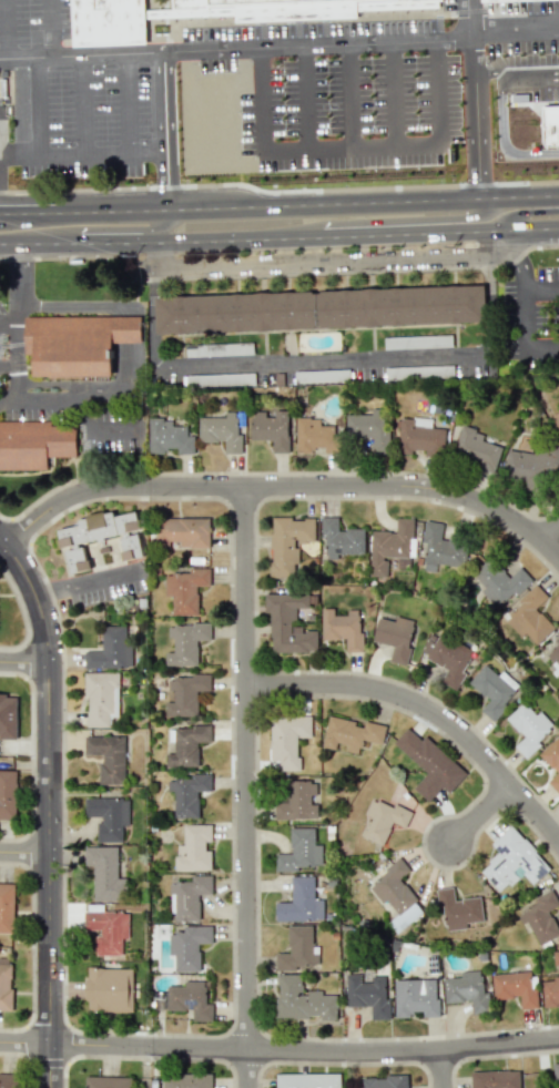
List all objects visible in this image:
building: (487, 0)
building: (293, 8)
road: (10, 17)
road: (465, 20)
building: (110, 23)
parking lot: (34, 24)
road: (520, 35)
road: (474, 39)
road: (265, 48)
parking lot: (525, 53)
road: (82, 55)
road: (49, 77)
road: (520, 84)
road: (434, 93)
road: (396, 94)
road: (359, 95)
road: (322, 96)
road: (284, 98)
parking lot: (317, 98)
road: (246, 100)
road: (207, 101)
road: (124, 103)
road: (84, 104)
road: (19, 108)
road: (482, 114)
road: (467, 115)
parking lot: (89, 120)
building: (545, 129)
road: (322, 148)
road: (187, 151)
road: (148, 152)
road: (88, 153)
road: (23, 156)
road: (496, 156)
road: (167, 176)
road: (307, 195)
road: (28, 204)
road: (522, 212)
road: (156, 220)
road: (402, 220)
road: (279, 235)
road: (63, 255)
road: (520, 255)
road: (318, 261)
road: (349, 271)
road: (540, 285)
road: (75, 309)
building: (319, 309)
road: (8, 317)
road: (522, 321)
road: (16, 322)
building: (417, 342)
building: (77, 343)
building: (218, 348)
road: (541, 354)
road: (318, 362)
road: (8, 364)
building: (418, 372)
building: (220, 379)
road: (8, 404)
road: (80, 409)
building: (556, 419)
building: (369, 428)
building: (271, 429)
building: (221, 430)
building: (315, 436)
building: (169, 437)
building: (419, 437)
building: (34, 444)
building: (476, 448)
building: (532, 465)
road: (278, 471)
road: (283, 488)
building: (182, 531)
road: (551, 533)
building: (100, 536)
building: (341, 538)
building: (288, 543)
building: (390, 547)
building: (440, 548)
building: (499, 582)
building: (185, 589)
road: (22, 612)
building: (529, 617)
building: (288, 623)
building: (342, 628)
building: (395, 637)
building: (185, 643)
building: (111, 649)
building: (553, 653)
building: (446, 657)
road: (26, 663)
building: (491, 691)
building: (184, 693)
building: (101, 698)
road: (427, 709)
building: (8, 716)
building: (529, 728)
building: (352, 733)
building: (287, 739)
building: (186, 745)
building: (108, 757)
building: (552, 761)
building: (429, 764)
road: (248, 787)
building: (187, 793)
building: (8, 794)
building: (298, 801)
road: (51, 807)
road: (485, 815)
building: (108, 816)
building: (382, 820)
building: (194, 847)
building: (299, 851)
road: (26, 852)
building: (512, 861)
building: (105, 873)
building: (396, 894)
building: (189, 896)
building: (301, 902)
building: (7, 907)
building: (457, 908)
building: (540, 917)
building: (108, 929)
building: (189, 946)
building: (297, 949)
building: (6, 986)
building: (515, 987)
building: (551, 987)
building: (109, 989)
building: (466, 989)
building: (367, 995)
building: (415, 997)
building: (190, 999)
building: (303, 1000)
road: (279, 1049)
road: (26, 1059)
road: (445, 1068)
building: (556, 1072)
building: (495, 1079)
building: (8, 1080)
building: (186, 1080)
building: (307, 1080)
building: (106, 1081)
building: (385, 1081)

